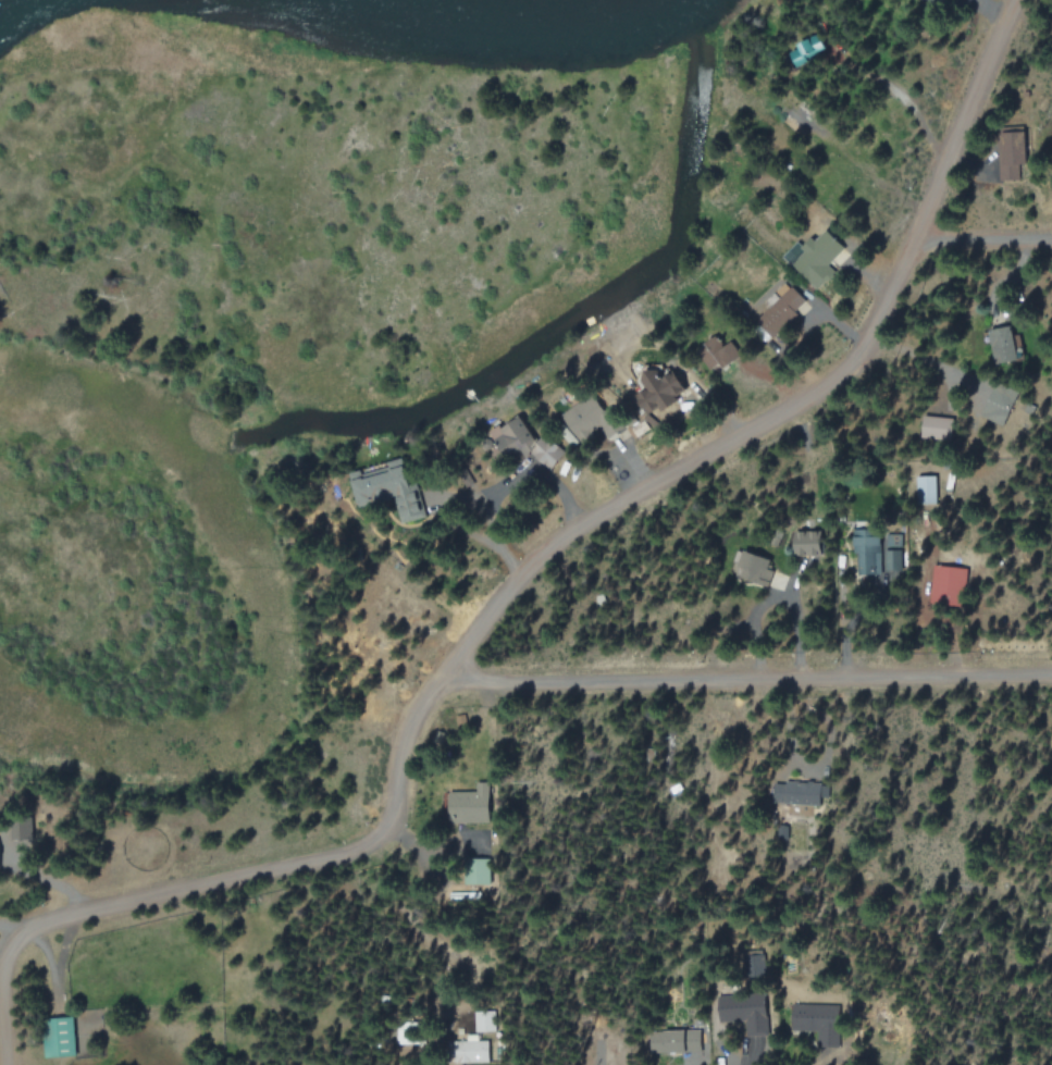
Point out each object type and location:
river: (465, 23)
building: (1013, 154)
road: (989, 238)
building: (815, 257)
building: (773, 319)
building: (1005, 344)
building: (719, 352)
building: (661, 394)
building: (1000, 403)
building: (593, 418)
building: (938, 426)
building: (528, 442)
building: (383, 485)
building: (927, 488)
building: (810, 542)
building: (867, 550)
building: (893, 559)
building: (753, 566)
road: (525, 580)
building: (950, 584)
road: (751, 678)
building: (797, 792)
building: (472, 804)
building: (1, 858)
building: (478, 871)
building: (740, 1007)
building: (484, 1020)
building: (822, 1027)
building: (59, 1037)
building: (676, 1041)
building: (468, 1050)

